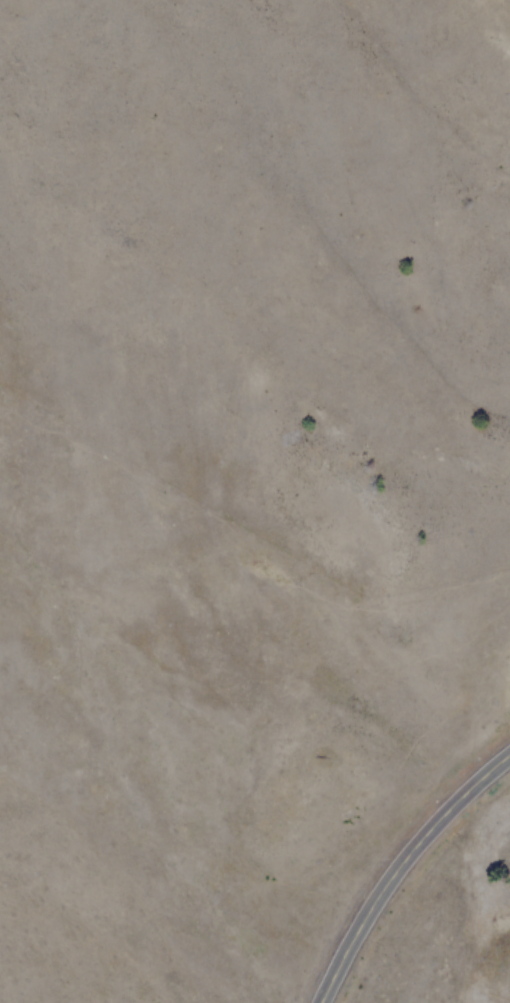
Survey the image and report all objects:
road: (401, 868)
park: (465, 925)

